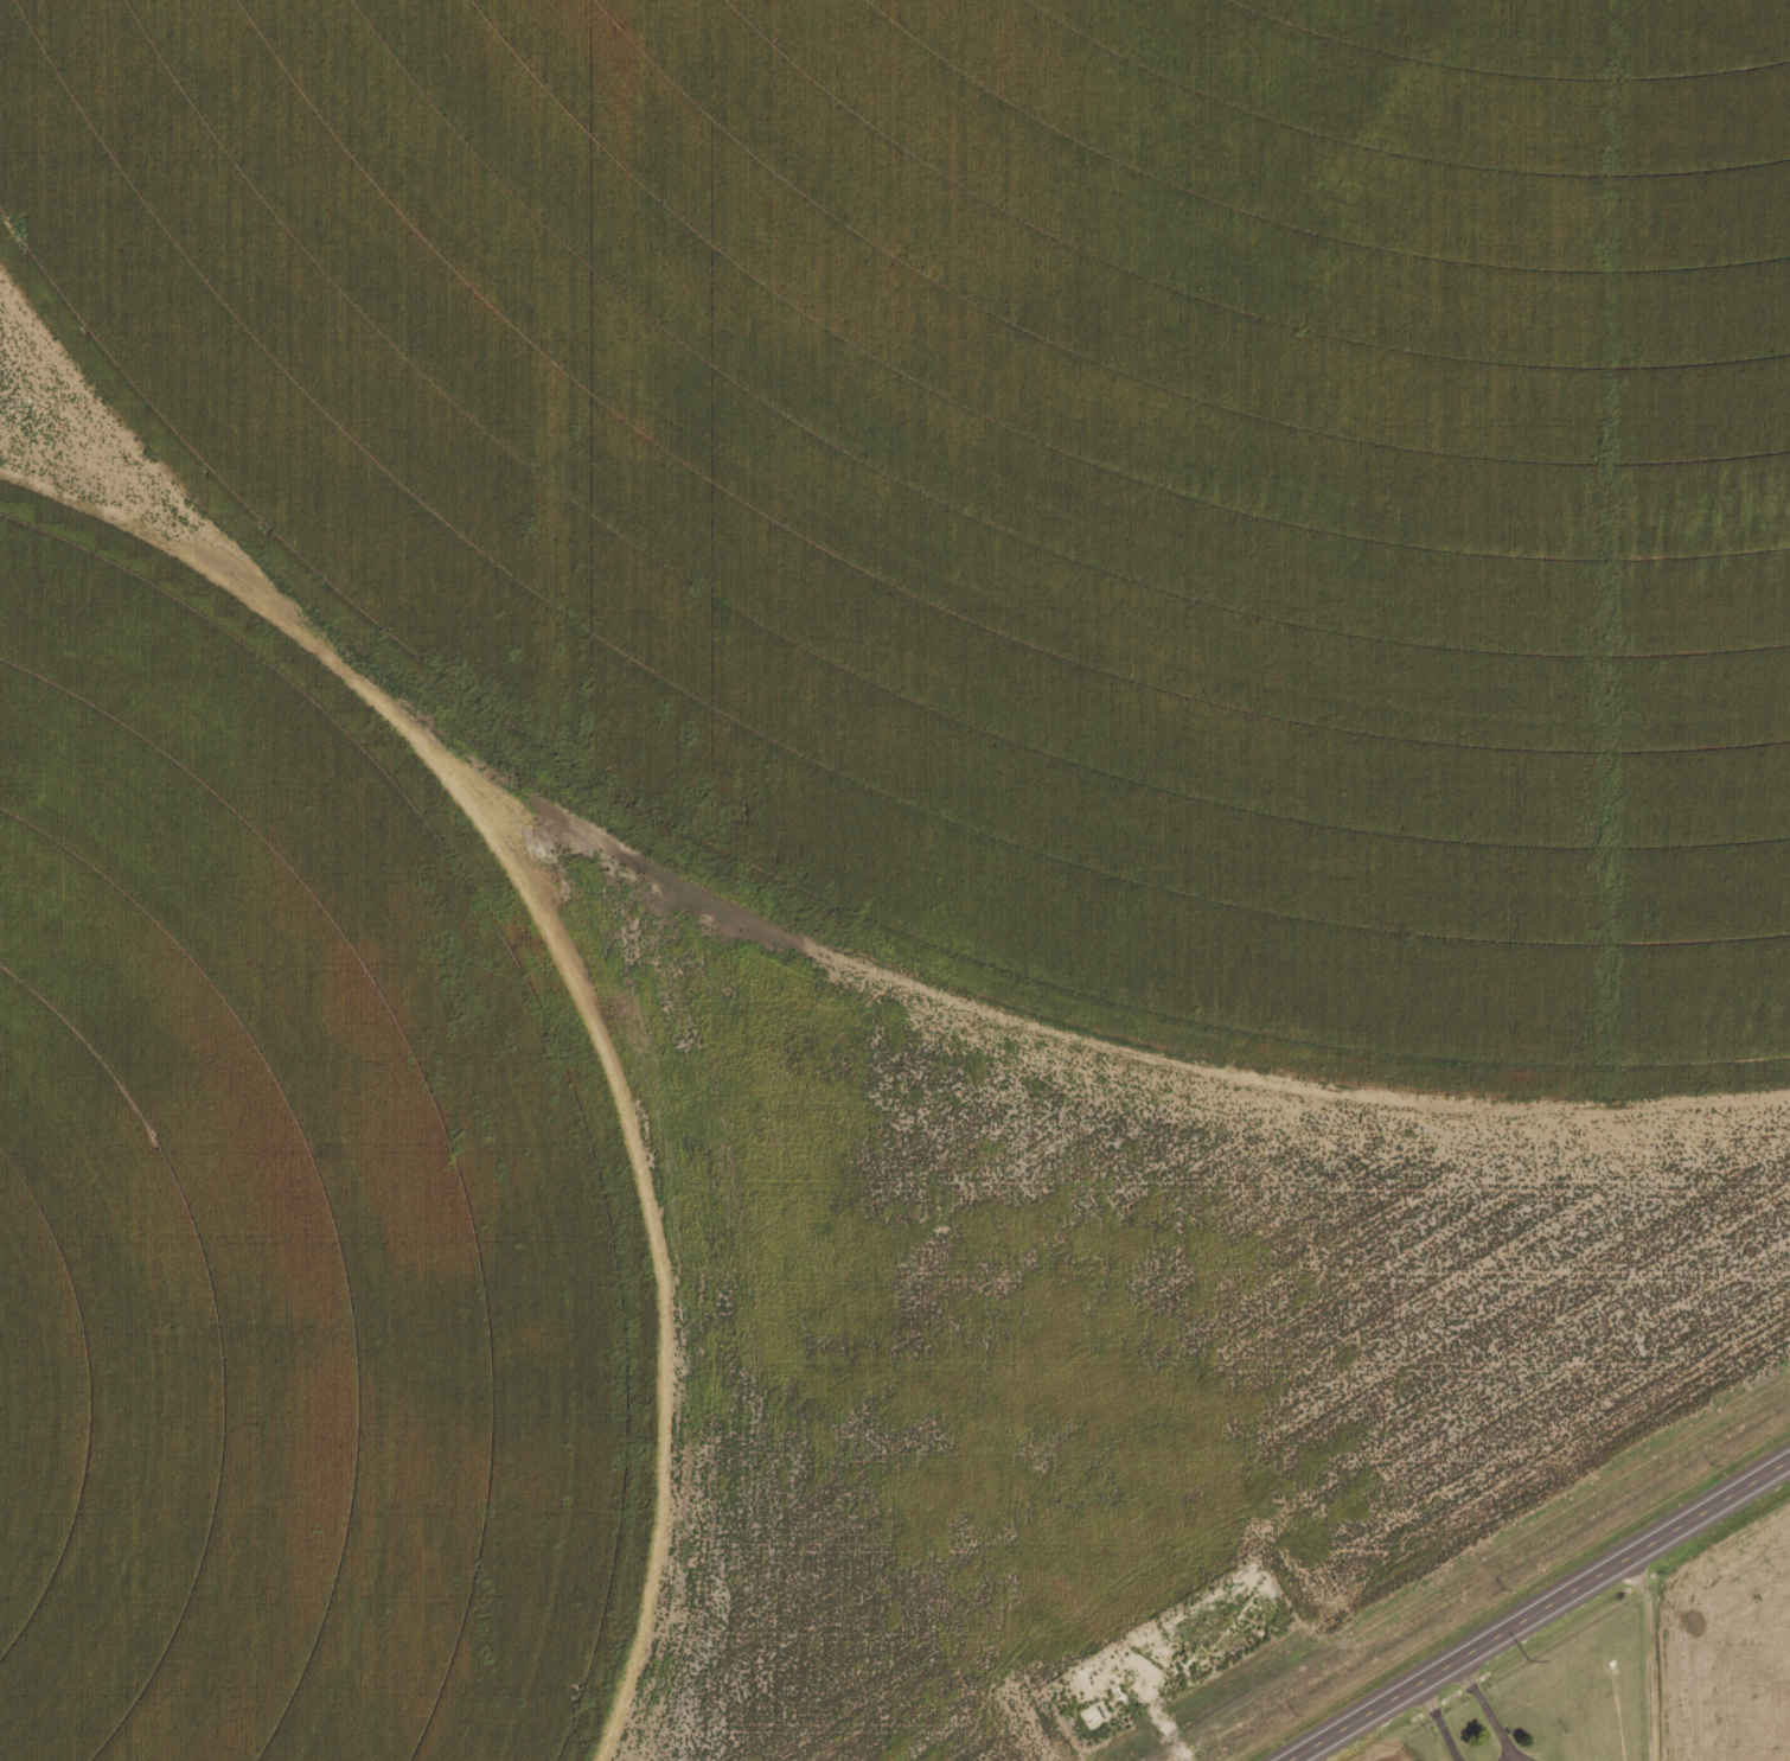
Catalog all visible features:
road: (1543, 1612)
road: (1683, 1644)
power tower: (1528, 1658)

